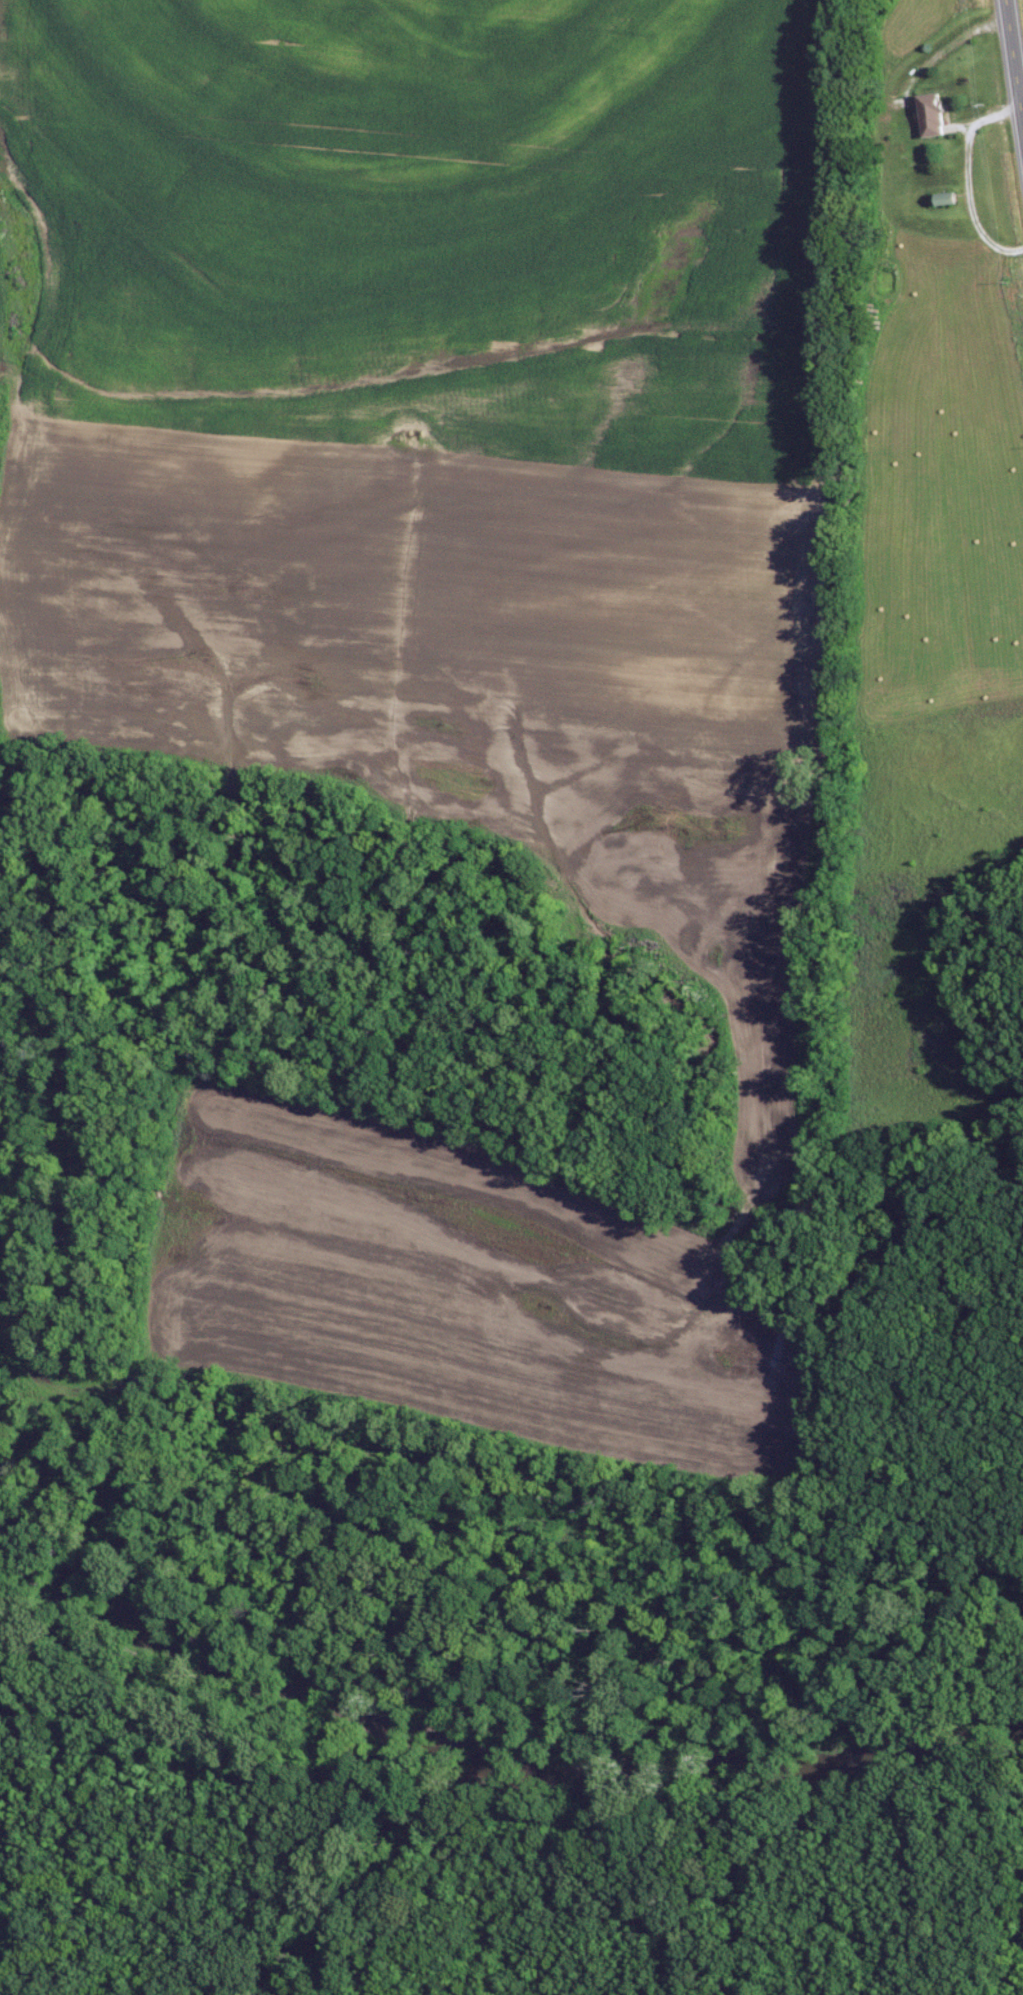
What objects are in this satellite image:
road: (941, 53)
road: (1014, 65)
building: (932, 115)
road: (959, 184)
building: (945, 199)

